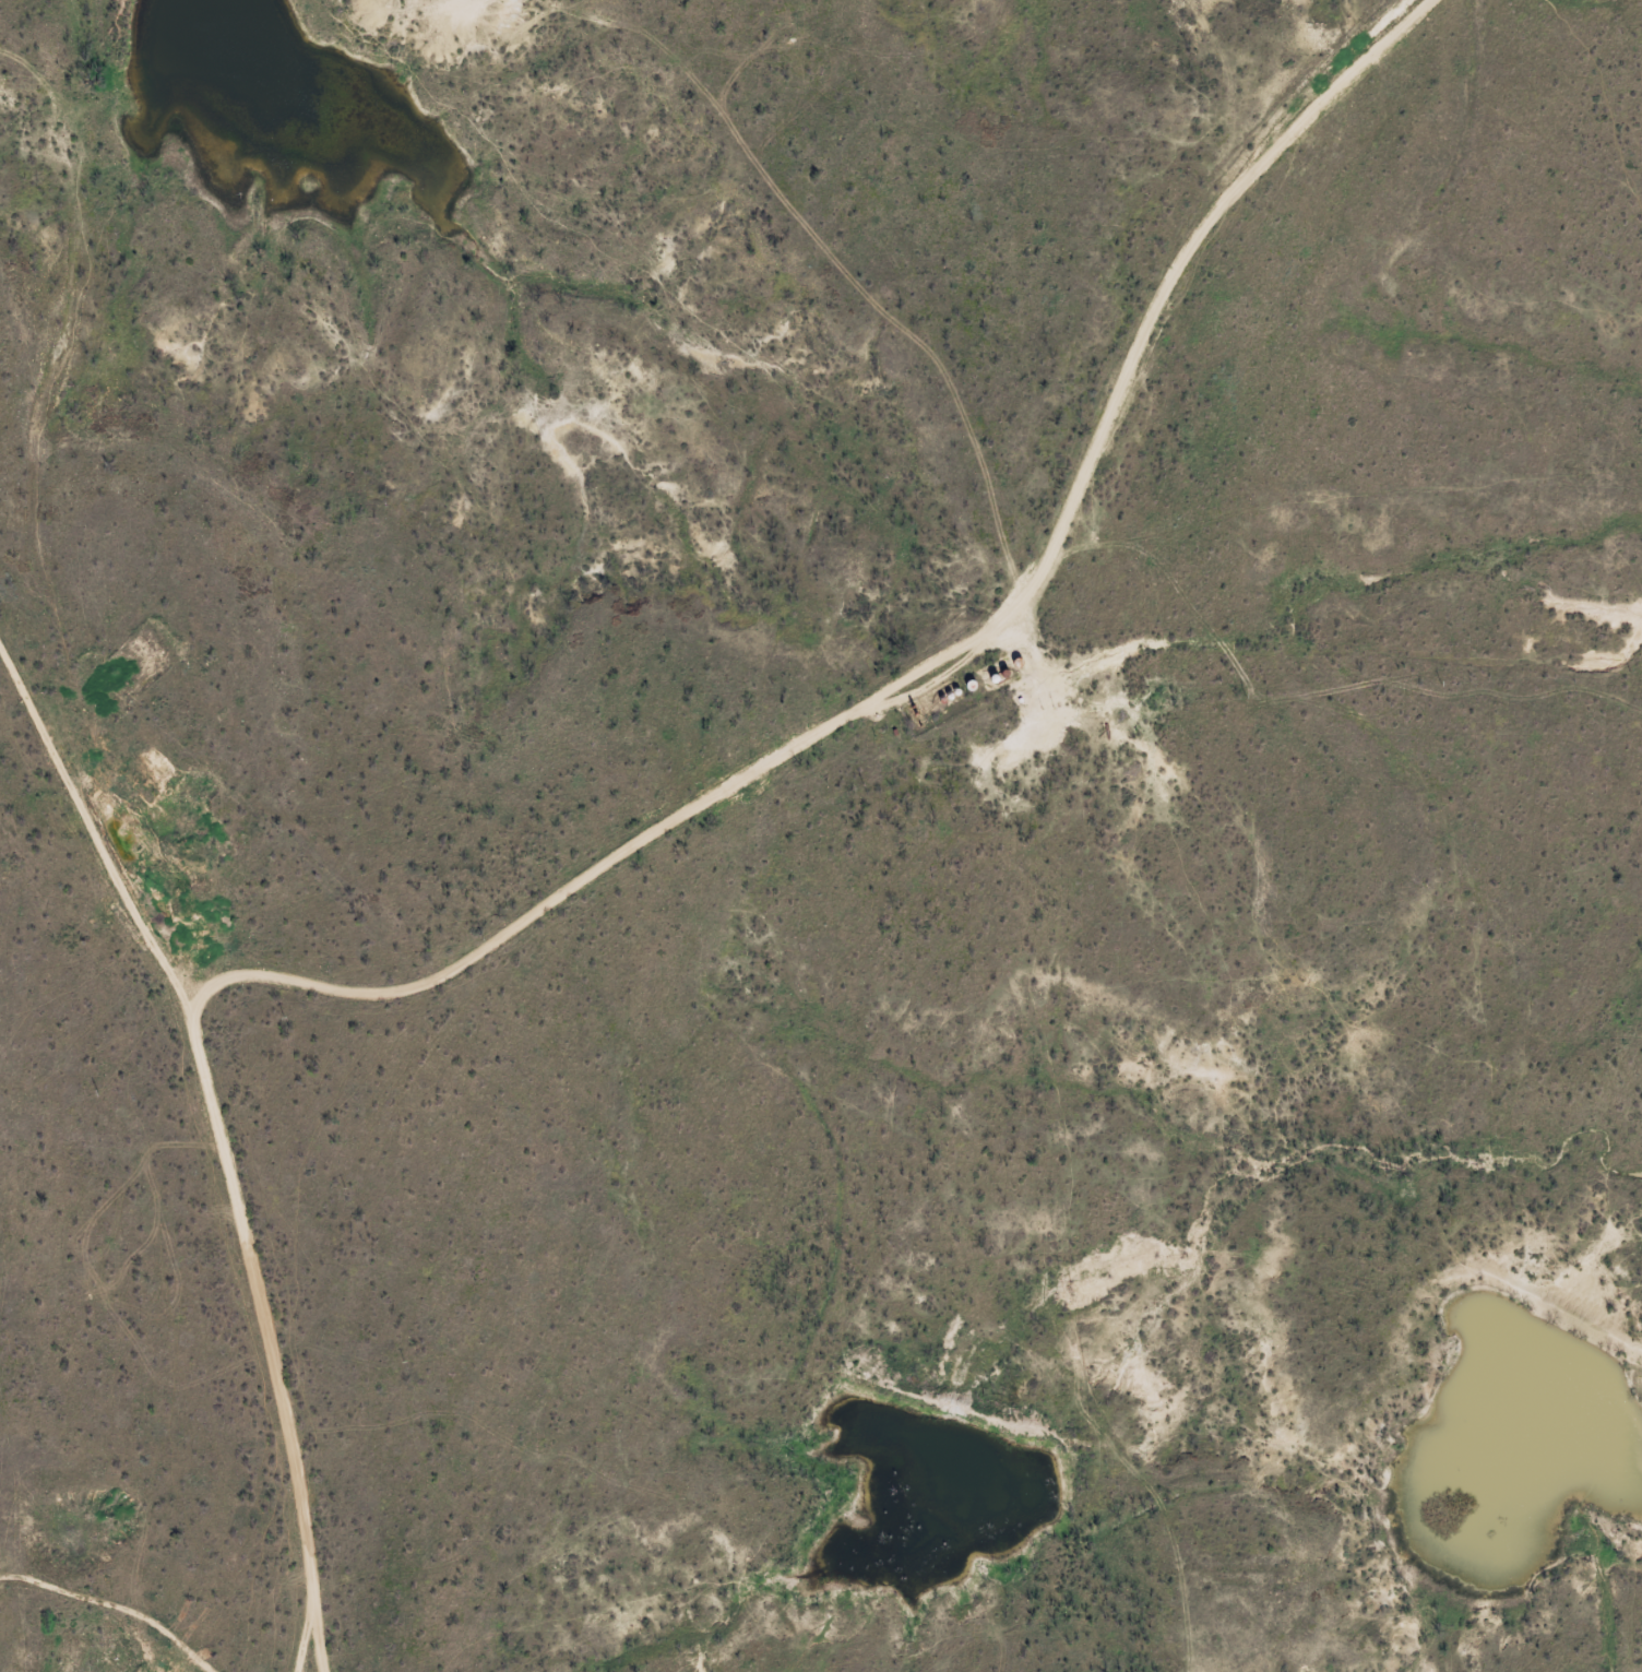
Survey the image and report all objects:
road: (1153, 275)
road: (872, 709)
road: (223, 1161)

